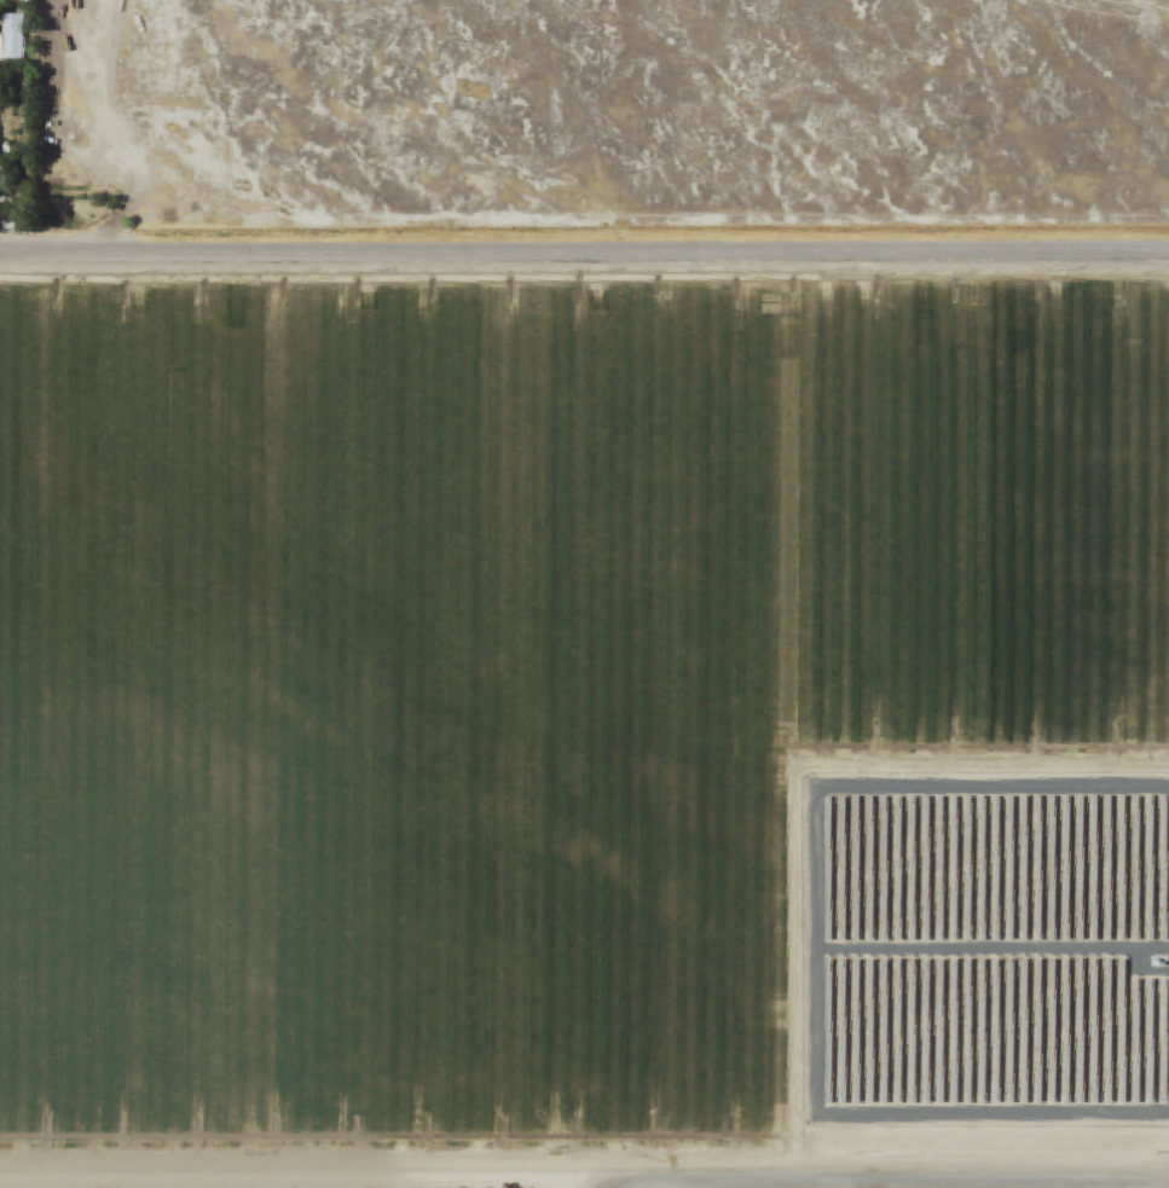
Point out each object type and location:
building: (24, 1)
building: (13, 40)
road: (584, 251)
road: (307, 1169)
road: (901, 1183)

